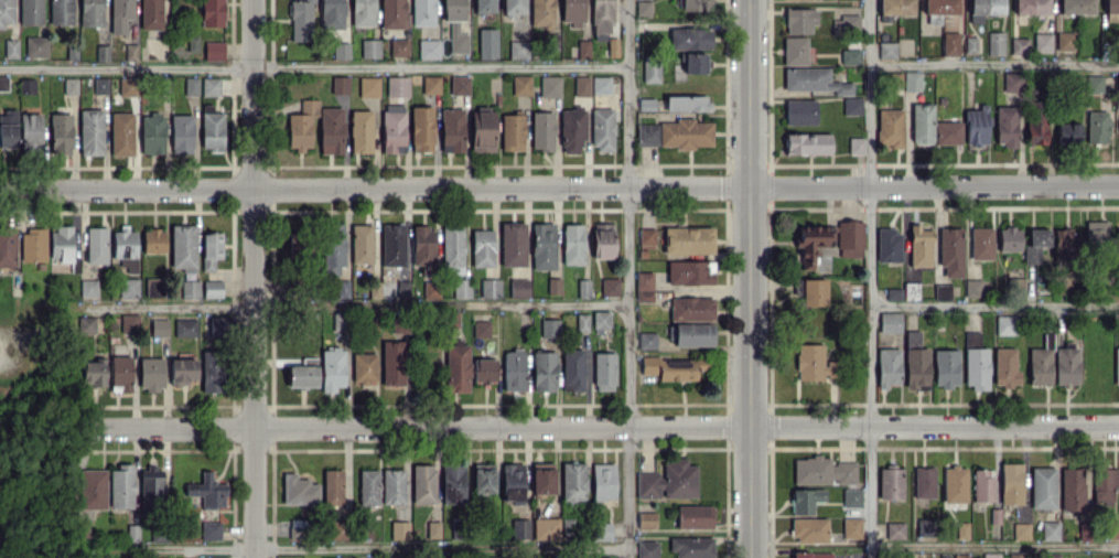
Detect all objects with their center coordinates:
building: (695, 4)
building: (483, 6)
building: (896, 7)
building: (1031, 7)
building: (1076, 7)
building: (1111, 7)
building: (512, 8)
building: (643, 8)
building: (983, 9)
building: (939, 10)
building: (541, 12)
building: (571, 12)
building: (601, 18)
building: (799, 20)
building: (844, 24)
building: (689, 37)
building: (1065, 41)
building: (1042, 42)
building: (487, 43)
building: (950, 43)
building: (994, 43)
building: (970, 44)
building: (1019, 45)
building: (583, 49)
building: (517, 50)
building: (886, 50)
building: (794, 51)
building: (850, 56)
building: (693, 62)
road: (993, 64)
road: (312, 65)
building: (650, 72)
building: (813, 81)
building: (912, 81)
building: (1012, 82)
building: (1091, 83)
building: (520, 85)
building: (581, 85)
building: (600, 85)
building: (549, 86)
building: (1118, 87)
building: (686, 103)
building: (851, 106)
building: (799, 111)
building: (922, 124)
building: (1005, 125)
building: (1035, 127)
building: (1096, 127)
building: (602, 128)
building: (889, 128)
building: (571, 129)
building: (541, 130)
building: (482, 131)
building: (512, 131)
building: (947, 132)
building: (675, 133)
building: (1068, 133)
building: (807, 143)
building: (856, 144)
road: (559, 187)
building: (1096, 232)
building: (1118, 232)
building: (646, 237)
building: (850, 238)
building: (1009, 238)
building: (688, 239)
building: (602, 240)
building: (1066, 242)
building: (981, 243)
building: (512, 244)
building: (572, 244)
building: (810, 244)
building: (542, 245)
building: (889, 245)
building: (1035, 245)
building: (919, 246)
building: (482, 248)
building: (950, 250)
building: (689, 272)
road: (255, 278)
road: (626, 278)
road: (747, 279)
road: (869, 279)
building: (553, 286)
building: (610, 286)
building: (644, 286)
building: (489, 288)
building: (518, 288)
building: (582, 288)
building: (972, 288)
building: (813, 291)
building: (911, 291)
building: (942, 292)
building: (893, 293)
road: (351, 304)
road: (994, 304)
building: (691, 307)
building: (600, 320)
building: (581, 322)
building: (890, 322)
building: (1005, 324)
building: (549, 328)
building: (481, 329)
building: (691, 334)
building: (646, 340)
road: (3, 344)
parking lot: (9, 345)
building: (915, 362)
building: (975, 362)
building: (814, 363)
building: (1041, 363)
building: (1065, 365)
building: (887, 366)
building: (1116, 366)
building: (945, 367)
building: (1004, 367)
building: (670, 368)
building: (484, 369)
building: (513, 369)
building: (572, 369)
building: (544, 371)
building: (603, 372)
road: (602, 426)
building: (822, 471)
building: (483, 477)
building: (541, 477)
building: (603, 481)
building: (668, 481)
building: (573, 482)
building: (924, 482)
building: (1011, 482)
building: (512, 483)
building: (890, 483)
building: (955, 483)
building: (982, 484)
building: (1105, 484)
building: (1042, 486)
building: (1072, 492)
building: (851, 497)
building: (805, 500)
building: (693, 516)
building: (645, 519)
building: (925, 526)
building: (851, 527)
building: (519, 528)
building: (546, 528)
building: (1112, 528)
building: (809, 529)
building: (894, 529)
building: (1050, 529)
building: (600, 530)
building: (1020, 530)
road: (356, 546)
road: (994, 546)
building: (691, 547)
building: (647, 549)
building: (811, 555)
building: (1018, 555)
building: (1053, 555)
building: (960, 556)
building: (987, 556)
building: (1113, 556)
building: (487, 557)
building: (601, 557)

